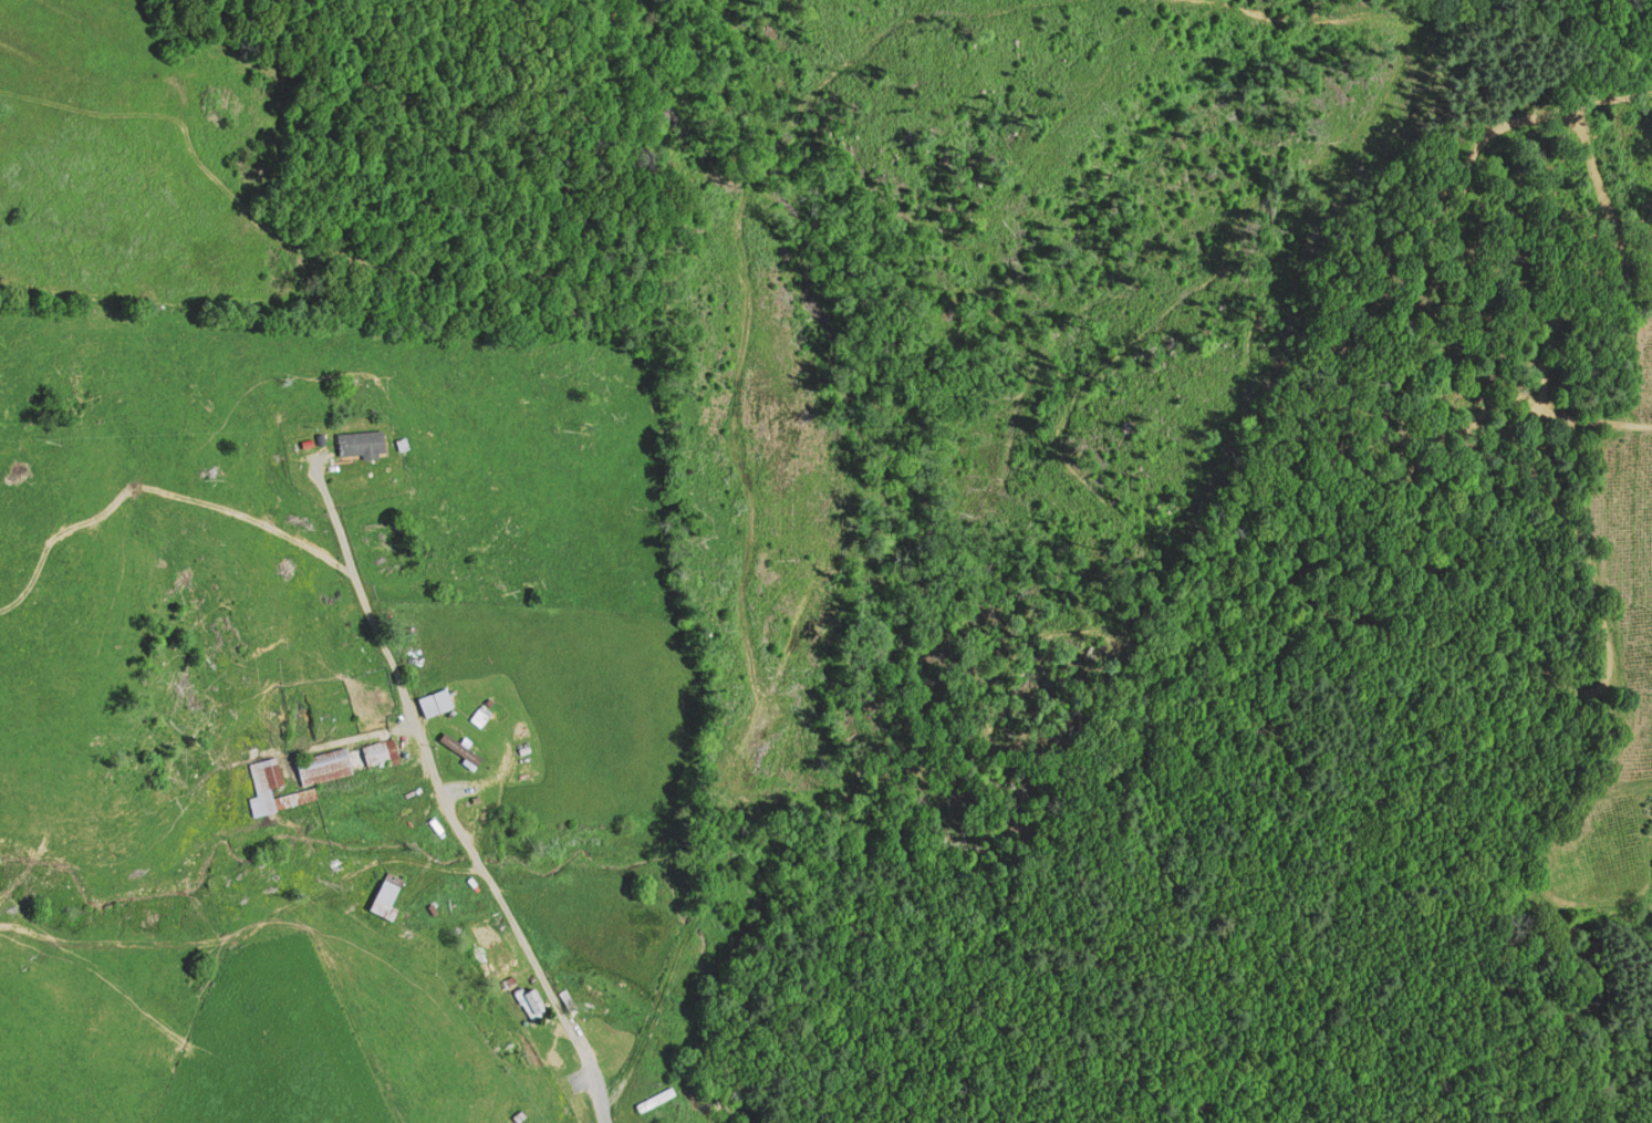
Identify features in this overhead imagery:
building: (359, 441)
road: (333, 514)
building: (434, 703)
building: (459, 747)
building: (380, 751)
building: (320, 766)
building: (270, 787)
road: (454, 820)
building: (383, 893)
building: (532, 999)
road: (596, 1089)
building: (654, 1098)

